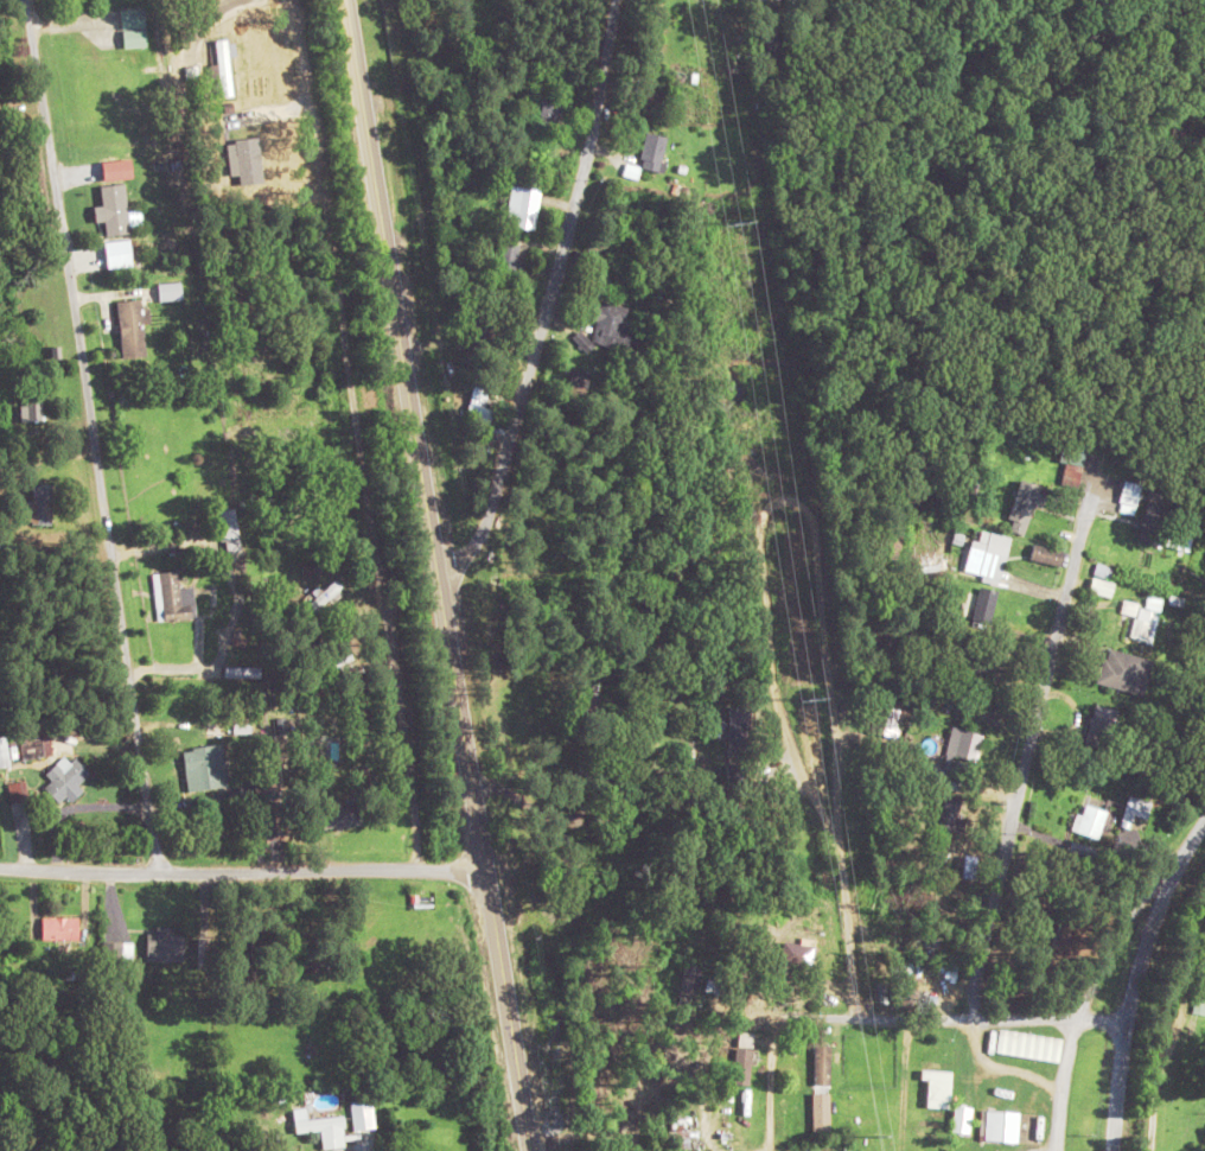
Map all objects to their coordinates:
building: (134, 27)
building: (767, 46)
building: (657, 97)
building: (549, 109)
building: (652, 151)
building: (522, 206)
building: (122, 221)
power tower: (733, 224)
building: (602, 241)
building: (508, 260)
building: (170, 291)
road: (548, 298)
building: (612, 326)
building: (133, 328)
building: (480, 330)
building: (578, 379)
building: (32, 405)
road: (355, 434)
road: (88, 435)
building: (1075, 458)
building: (920, 468)
building: (1129, 496)
building: (42, 501)
building: (1026, 502)
building: (1158, 523)
building: (229, 529)
building: (1047, 554)
building: (987, 555)
road: (435, 575)
building: (1103, 585)
building: (321, 594)
building: (172, 596)
building: (1141, 619)
road: (771, 656)
building: (971, 659)
building: (336, 660)
building: (242, 670)
building: (1124, 670)
power tower: (808, 693)
building: (588, 697)
building: (884, 719)
building: (1102, 724)
building: (739, 729)
building: (964, 742)
building: (38, 745)
building: (4, 751)
road: (1026, 756)
road: (835, 763)
building: (204, 765)
building: (735, 771)
building: (582, 774)
building: (68, 780)
building: (15, 786)
building: (270, 807)
building: (950, 810)
building: (1136, 810)
building: (342, 815)
building: (1091, 820)
road: (242, 870)
building: (59, 926)
building: (164, 943)
building: (203, 952)
building: (801, 952)
building: (312, 959)
road: (1134, 978)
building: (1199, 1004)
road: (888, 1015)
building: (1028, 1044)
building: (822, 1063)
building: (741, 1064)
road: (904, 1082)
road: (1067, 1085)
building: (938, 1087)
building: (821, 1111)
building: (994, 1124)
building: (323, 1126)
power tower: (878, 1133)
building: (809, 1150)

